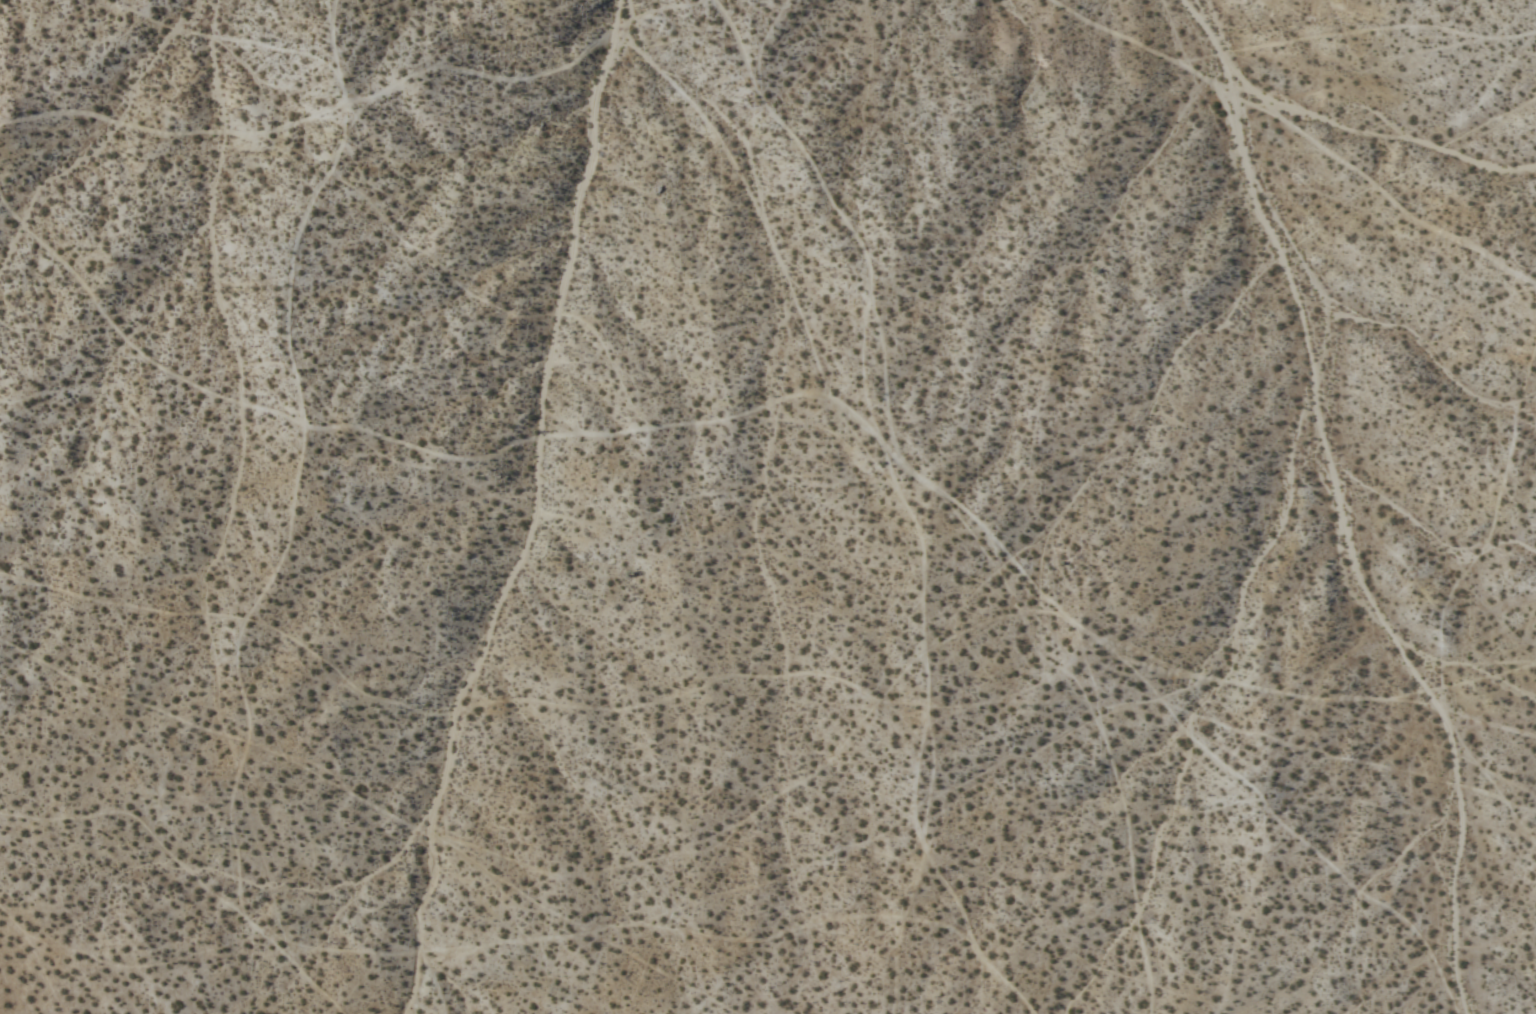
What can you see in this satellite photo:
crop: (768, 507)

